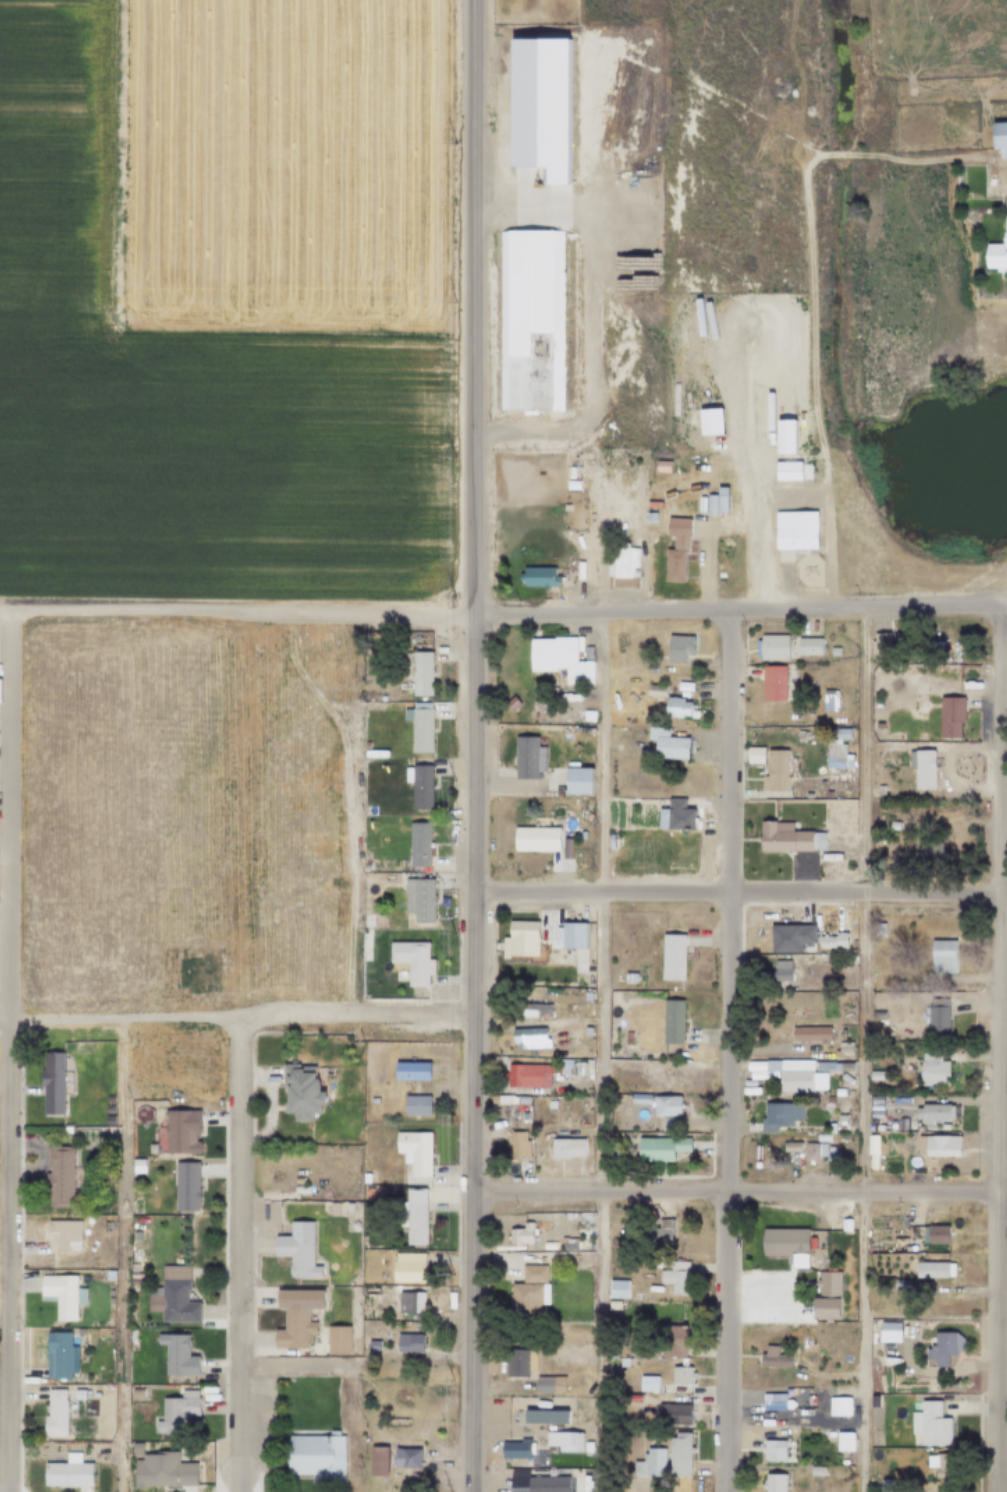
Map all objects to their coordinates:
building: (508, 69)
building: (552, 76)
building: (999, 137)
road: (118, 160)
crop: (290, 163)
road: (1002, 181)
building: (1004, 206)
building: (1004, 224)
building: (995, 255)
road: (471, 308)
building: (530, 320)
road: (587, 324)
crop: (183, 398)
building: (662, 466)
road: (732, 470)
building: (787, 471)
building: (726, 504)
building: (565, 507)
building: (650, 517)
road: (828, 524)
road: (738, 528)
building: (794, 530)
road: (600, 542)
building: (675, 550)
building: (624, 562)
building: (538, 577)
road: (1003, 607)
road: (802, 610)
road: (299, 613)
building: (880, 645)
building: (808, 646)
building: (772, 647)
building: (678, 648)
building: (834, 651)
road: (1003, 658)
building: (559, 660)
building: (421, 674)
building: (773, 683)
building: (655, 691)
building: (829, 699)
building: (677, 708)
building: (588, 716)
building: (950, 716)
building: (419, 727)
building: (788, 732)
building: (799, 736)
building: (811, 736)
building: (667, 744)
building: (754, 755)
building: (838, 756)
building: (528, 758)
building: (923, 769)
building: (775, 771)
building: (902, 772)
building: (576, 781)
building: (419, 786)
building: (879, 790)
road: (662, 792)
building: (675, 816)
building: (893, 827)
building: (572, 835)
building: (788, 838)
building: (535, 839)
building: (572, 843)
building: (419, 845)
building: (877, 845)
building: (928, 849)
road: (741, 894)
building: (419, 898)
building: (572, 934)
building: (520, 938)
building: (791, 938)
building: (832, 941)
building: (942, 955)
building: (673, 956)
building: (412, 960)
building: (848, 965)
building: (783, 970)
building: (630, 978)
building: (587, 997)
building: (535, 1009)
building: (878, 1013)
road: (237, 1017)
road: (537, 1021)
building: (672, 1021)
building: (935, 1021)
building: (587, 1032)
building: (810, 1034)
building: (628, 1037)
building: (527, 1038)
road: (5, 1050)
road: (863, 1050)
road: (598, 1051)
road: (724, 1051)
building: (841, 1051)
road: (997, 1051)
building: (941, 1052)
road: (474, 1053)
building: (821, 1066)
building: (844, 1066)
building: (563, 1069)
building: (931, 1070)
building: (761, 1075)
building: (522, 1076)
building: (794, 1076)
building: (873, 1076)
building: (845, 1082)
building: (51, 1084)
building: (750, 1085)
building: (297, 1091)
building: (847, 1091)
building: (752, 1092)
building: (105, 1099)
building: (521, 1100)
building: (827, 1100)
building: (892, 1100)
building: (837, 1102)
building: (655, 1104)
building: (413, 1105)
building: (549, 1105)
building: (105, 1109)
building: (931, 1113)
building: (777, 1116)
building: (839, 1117)
building: (106, 1121)
building: (889, 1124)
building: (900, 1125)
building: (908, 1126)
building: (942, 1127)
building: (877, 1128)
building: (916, 1128)
building: (828, 1129)
building: (883, 1129)
building: (64, 1131)
building: (178, 1131)
building: (107, 1134)
building: (869, 1144)
building: (935, 1146)
building: (515, 1147)
building: (789, 1147)
building: (148, 1148)
building: (564, 1149)
building: (657, 1149)
building: (412, 1151)
building: (819, 1153)
building: (135, 1167)
building: (55, 1176)
building: (363, 1178)
building: (184, 1186)
building: (299, 1189)
road: (739, 1190)
building: (366, 1193)
building: (331, 1208)
building: (339, 1208)
building: (346, 1208)
building: (411, 1216)
building: (660, 1231)
building: (520, 1233)
building: (875, 1234)
building: (933, 1235)
building: (59, 1236)
building: (85, 1237)
building: (566, 1245)
building: (783, 1245)
building: (295, 1250)
road: (234, 1254)
road: (119, 1255)
building: (133, 1256)
building: (406, 1268)
building: (931, 1269)
building: (191, 1273)
building: (133, 1274)
building: (89, 1275)
building: (102, 1276)
building: (673, 1278)
building: (616, 1290)
building: (658, 1290)
building: (527, 1292)
building: (60, 1295)
building: (824, 1296)
building: (171, 1302)
road: (761, 1302)
parking lot: (772, 1302)
building: (408, 1303)
building: (611, 1306)
building: (362, 1315)
building: (293, 1317)
building: (887, 1327)
building: (766, 1336)
building: (335, 1340)
building: (670, 1341)
building: (371, 1343)
building: (406, 1343)
building: (942, 1344)
building: (54, 1355)
building: (174, 1355)
building: (771, 1358)
road: (1002, 1361)
building: (517, 1362)
road: (349, 1373)
building: (678, 1374)
building: (645, 1384)
building: (546, 1385)
building: (91, 1393)
road: (1, 1394)
building: (134, 1394)
building: (76, 1395)
building: (872, 1402)
building: (769, 1403)
building: (838, 1406)
building: (173, 1413)
building: (52, 1414)
building: (671, 1415)
building: (544, 1417)
road: (792, 1420)
parking lot: (259, 1424)
building: (928, 1426)
building: (586, 1432)
building: (73, 1435)
building: (841, 1441)
building: (561, 1443)
road: (1, 1448)
building: (585, 1448)
building: (133, 1449)
building: (514, 1449)
building: (775, 1451)
building: (676, 1455)
building: (314, 1458)
building: (404, 1459)
building: (517, 1464)
building: (648, 1464)
building: (161, 1470)
building: (940, 1470)
building: (813, 1471)
building: (65, 1472)
building: (772, 1483)
building: (885, 1486)

